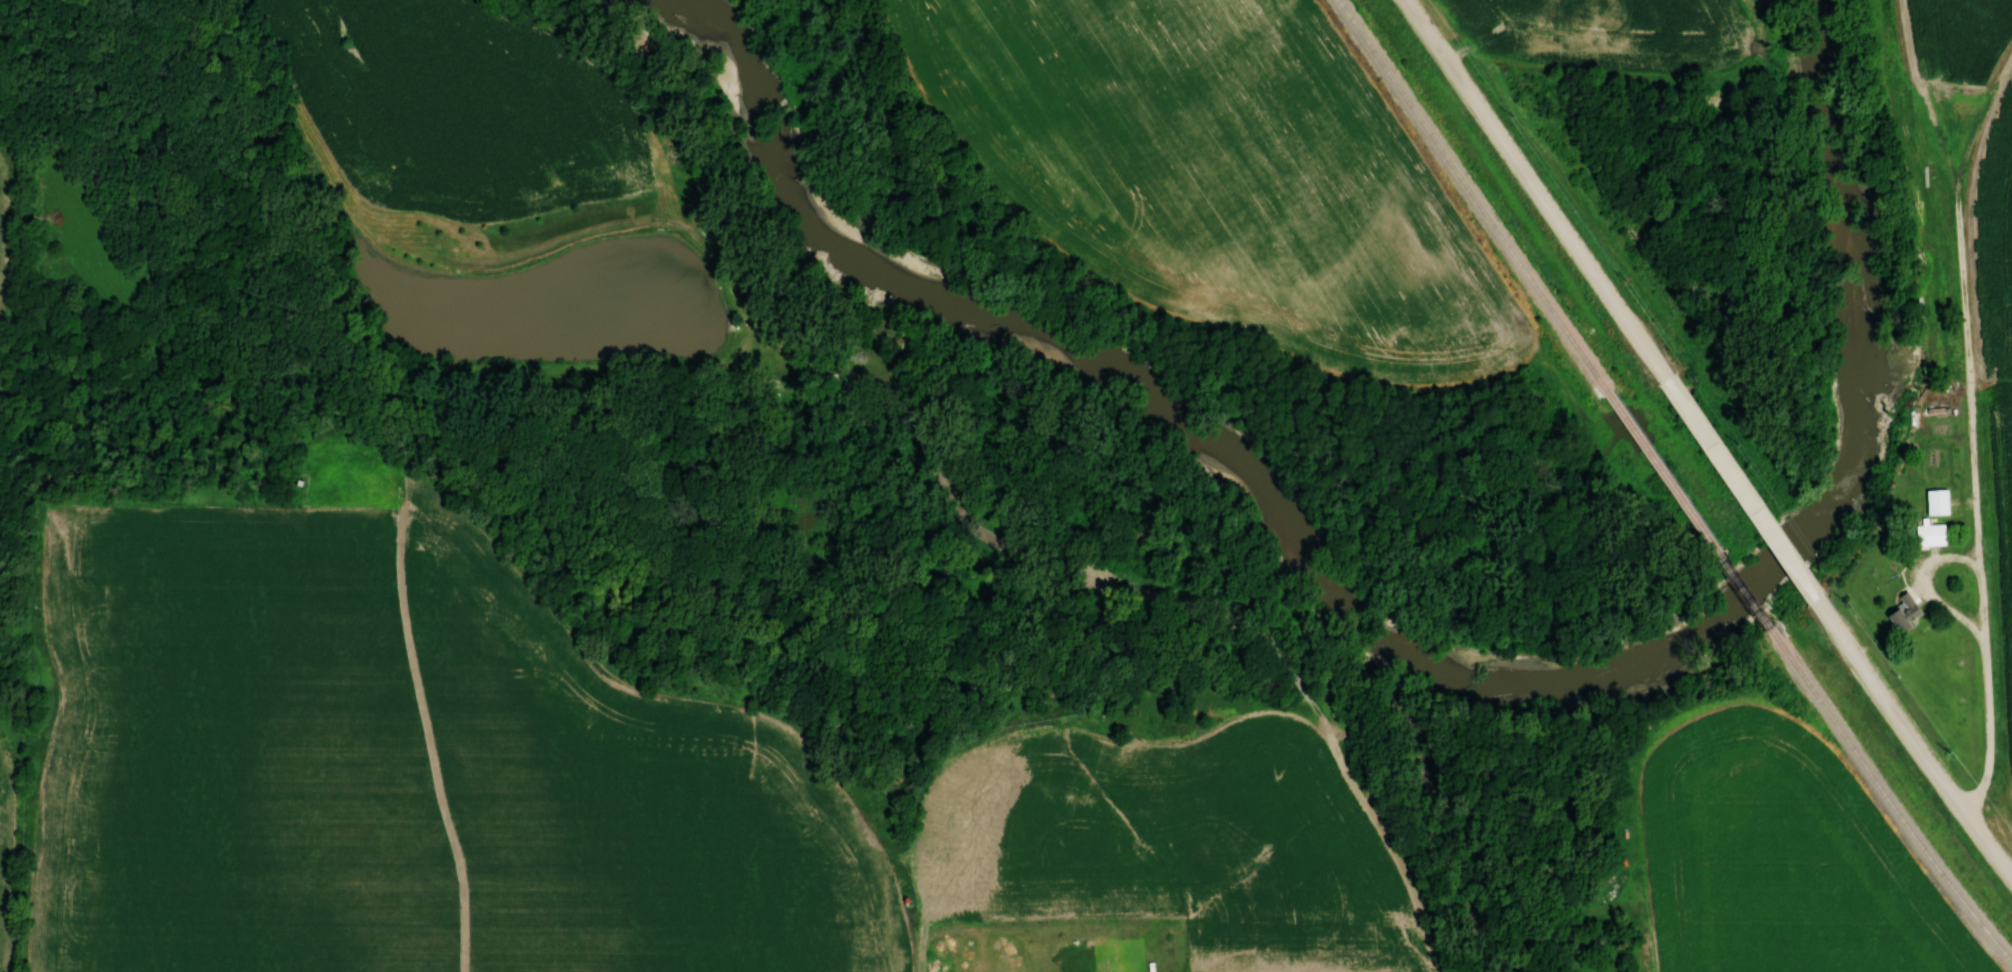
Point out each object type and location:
road: (1980, 120)
road: (1541, 189)
railway: (1474, 197)
road: (1963, 278)
road: (1746, 493)
building: (1940, 502)
railway: (1692, 516)
building: (1934, 535)
building: (1907, 613)
road: (1981, 616)
road: (1913, 740)
railway: (1889, 803)

